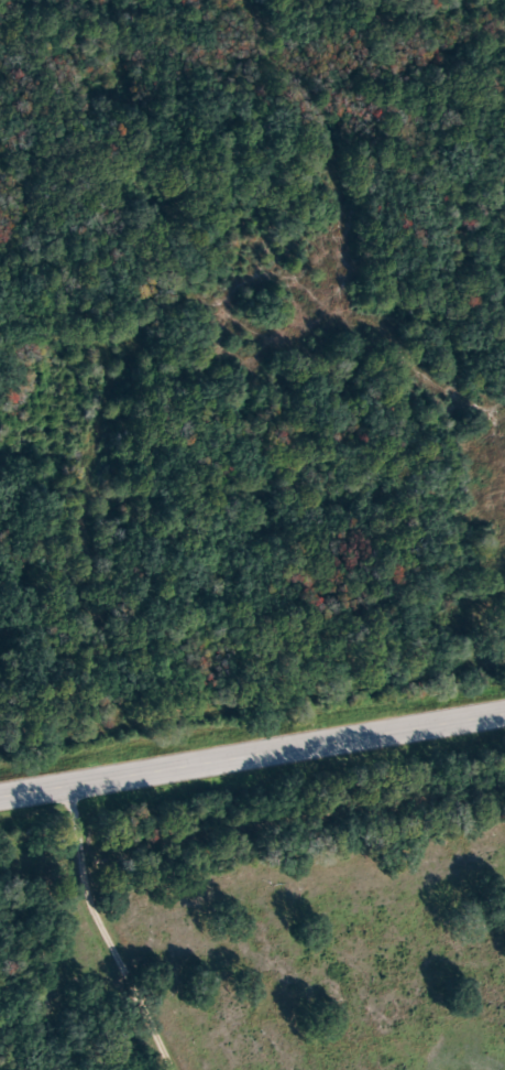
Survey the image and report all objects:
road: (252, 764)
railway: (252, 821)
road: (116, 936)

